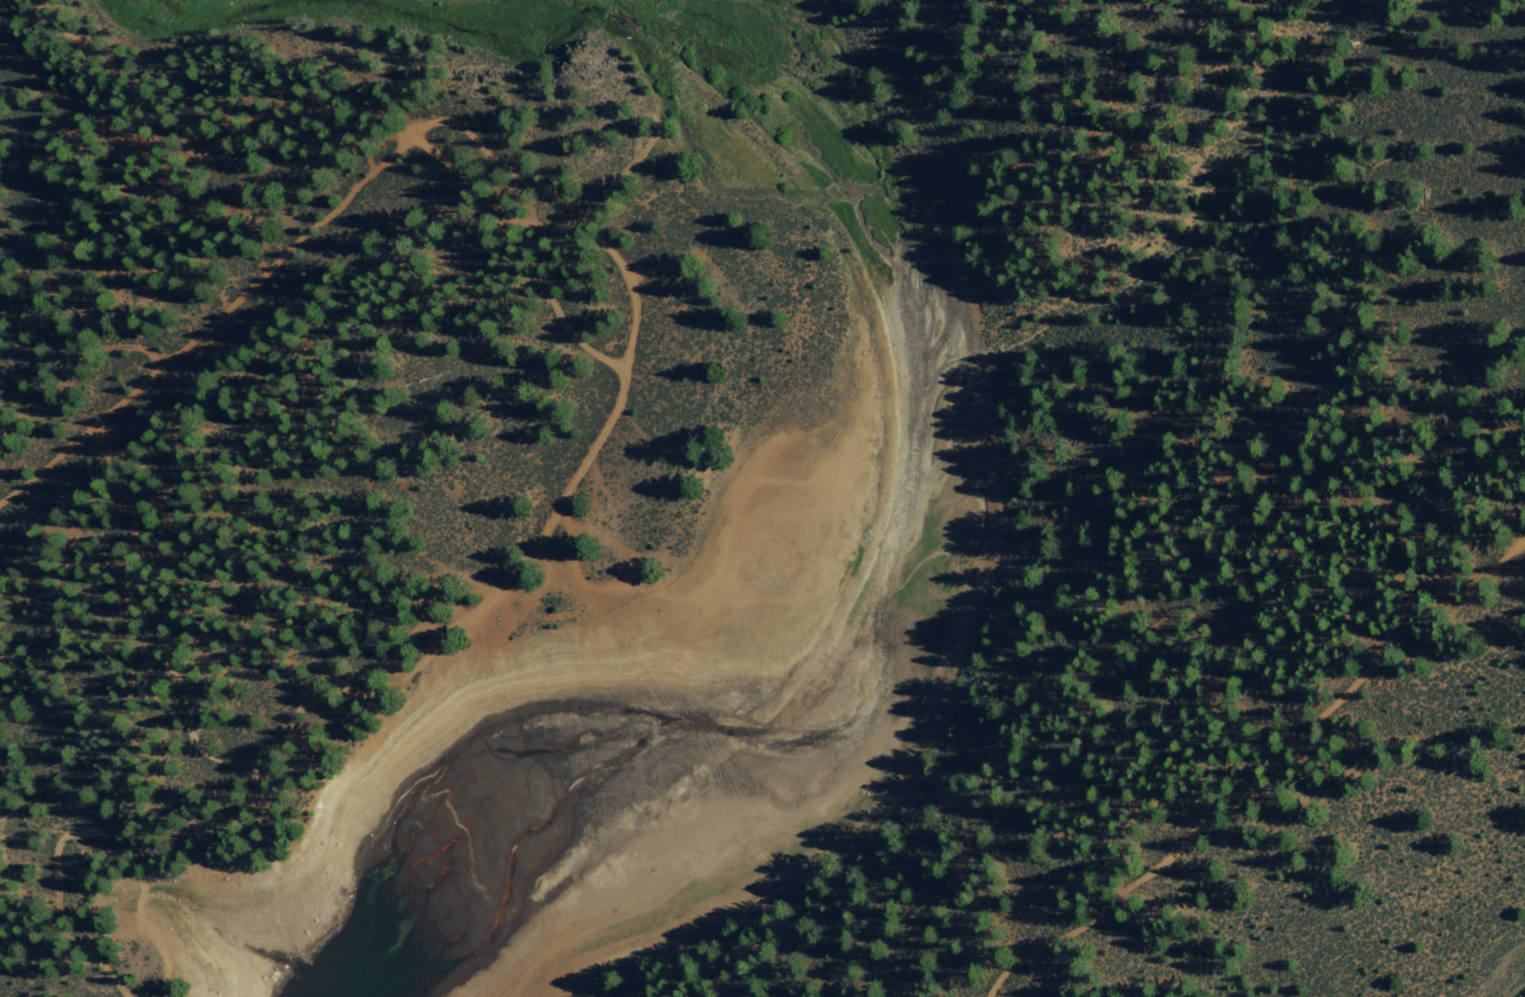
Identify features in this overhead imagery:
road: (513, 196)
road: (490, 199)
road: (558, 314)
road: (211, 325)
road: (83, 354)
road: (601, 436)
road: (550, 570)
road: (574, 570)
road: (415, 632)
road: (1259, 766)
road: (100, 835)

